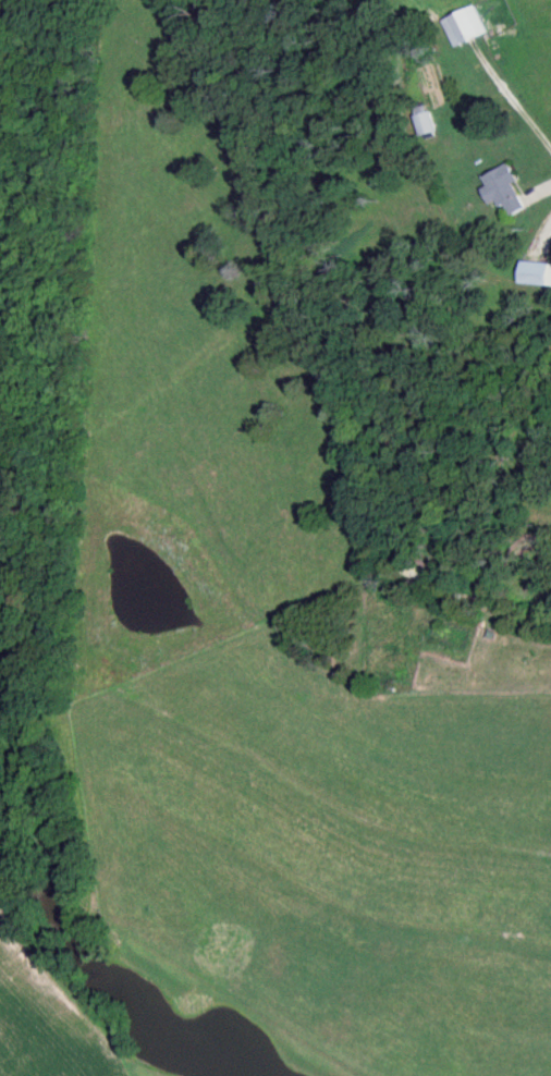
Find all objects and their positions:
building: (464, 28)
building: (424, 122)
building: (504, 192)
building: (536, 276)
road: (457, 343)

